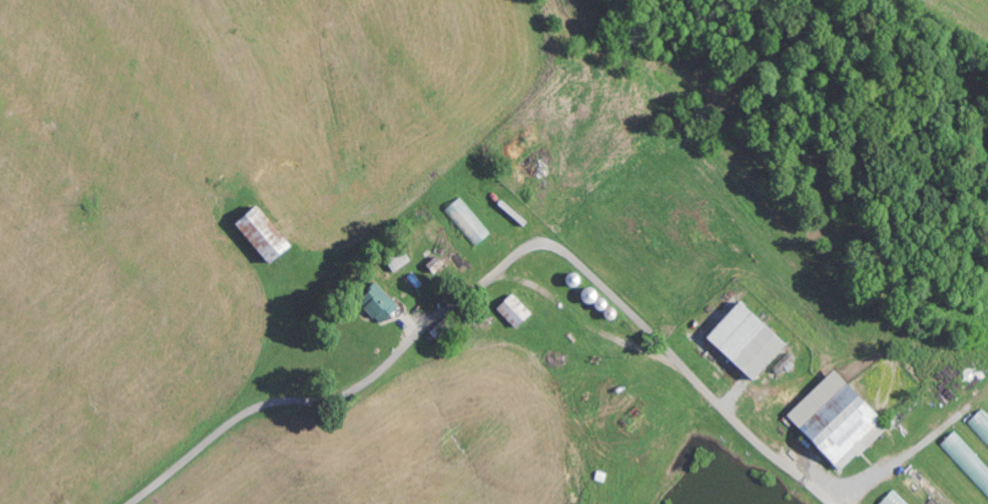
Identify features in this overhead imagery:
building: (260, 234)
road: (497, 269)
building: (377, 302)
building: (512, 310)
building: (744, 341)
building: (833, 420)
building: (981, 424)
building: (967, 460)
building: (893, 499)

